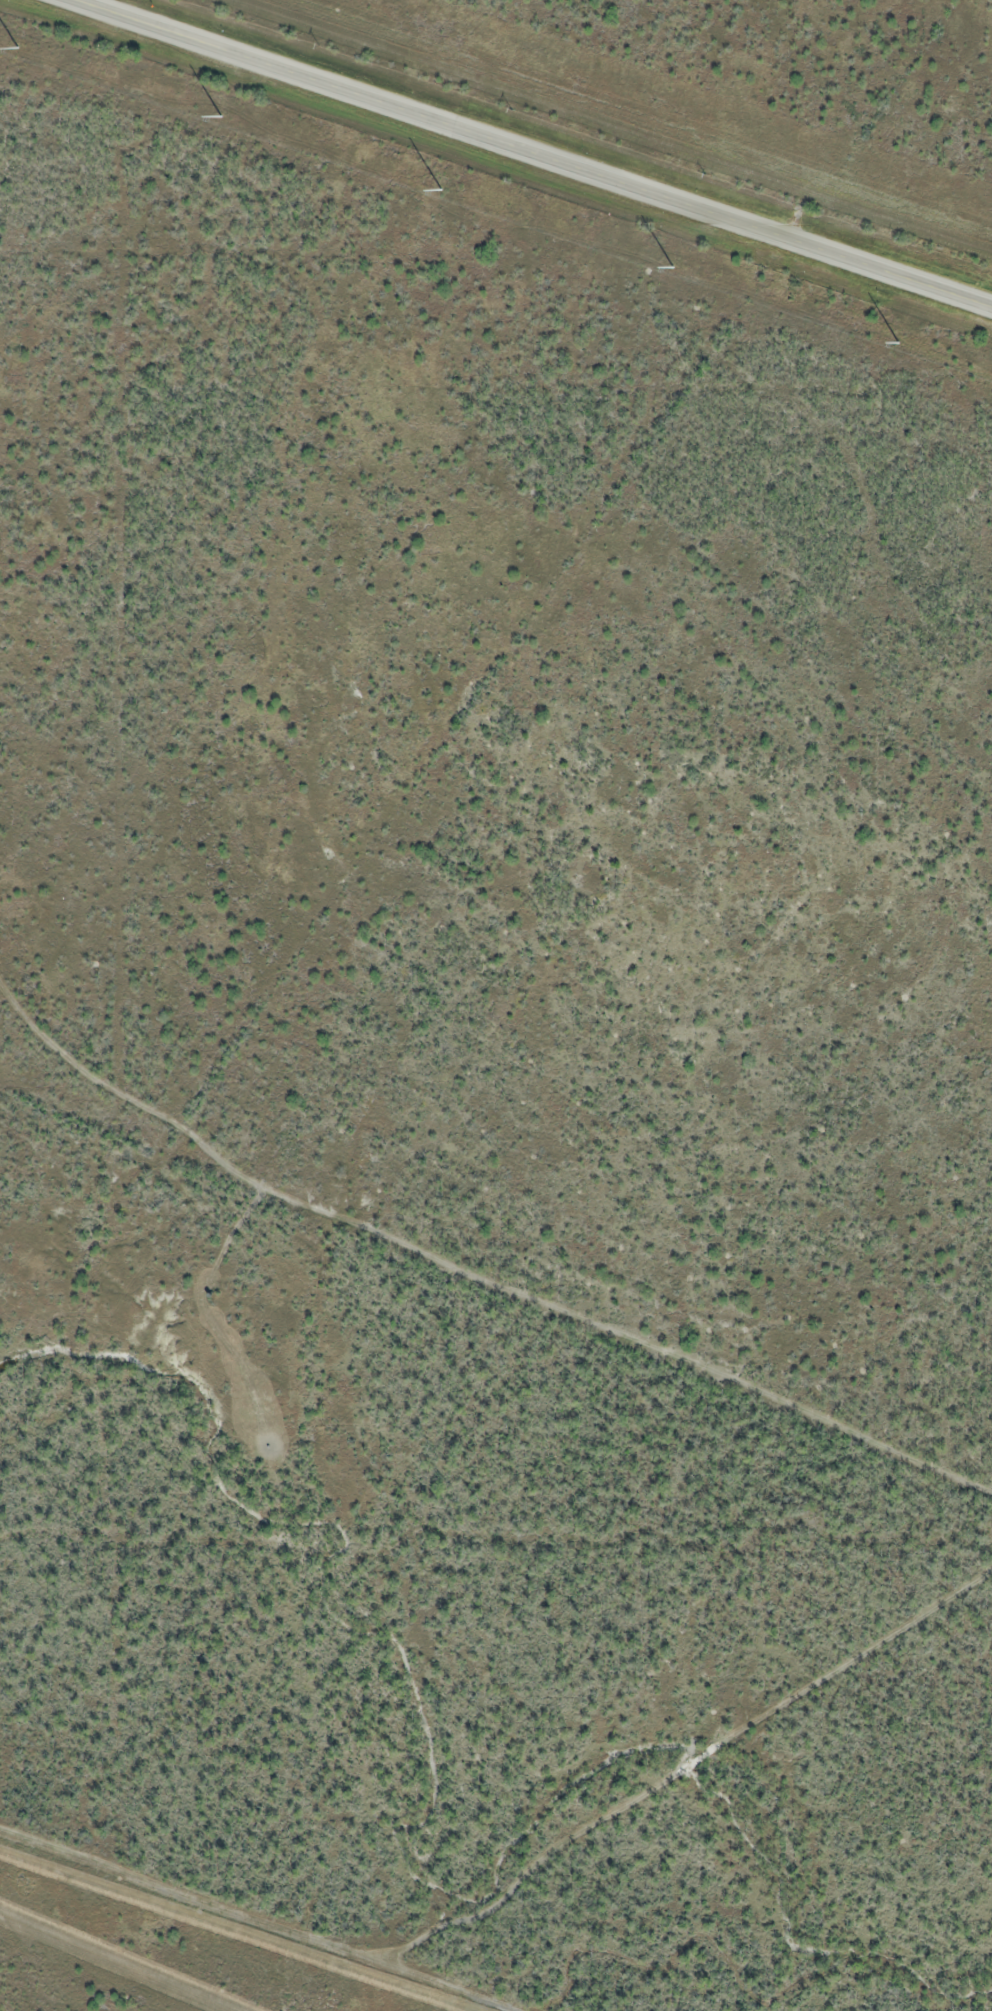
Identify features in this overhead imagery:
power tower: (16, 48)
power tower: (222, 116)
road: (532, 152)
power tower: (441, 191)
power tower: (674, 267)
power tower: (899, 340)

